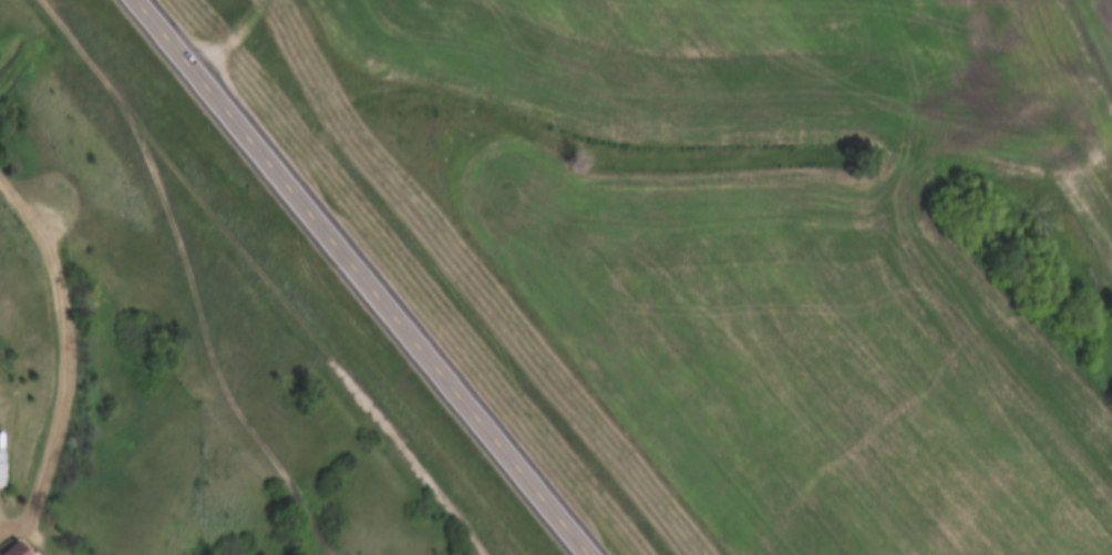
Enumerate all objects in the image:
road: (267, 277)
road: (367, 277)
road: (65, 356)
building: (1, 470)
building: (521, 477)

